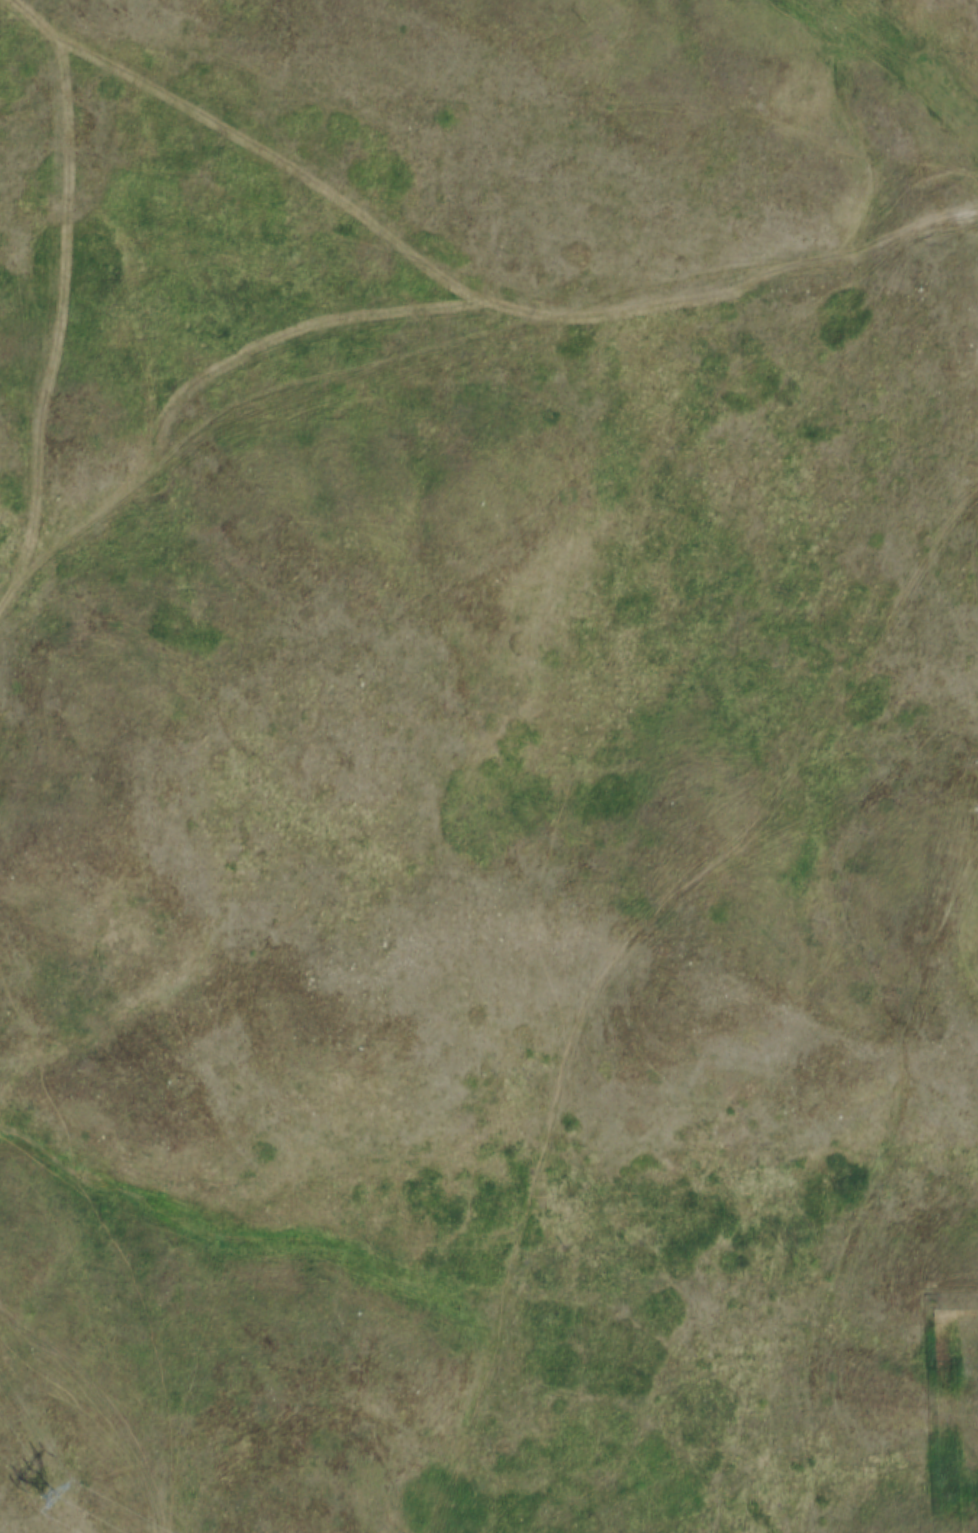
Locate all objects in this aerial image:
power tower: (55, 1501)

